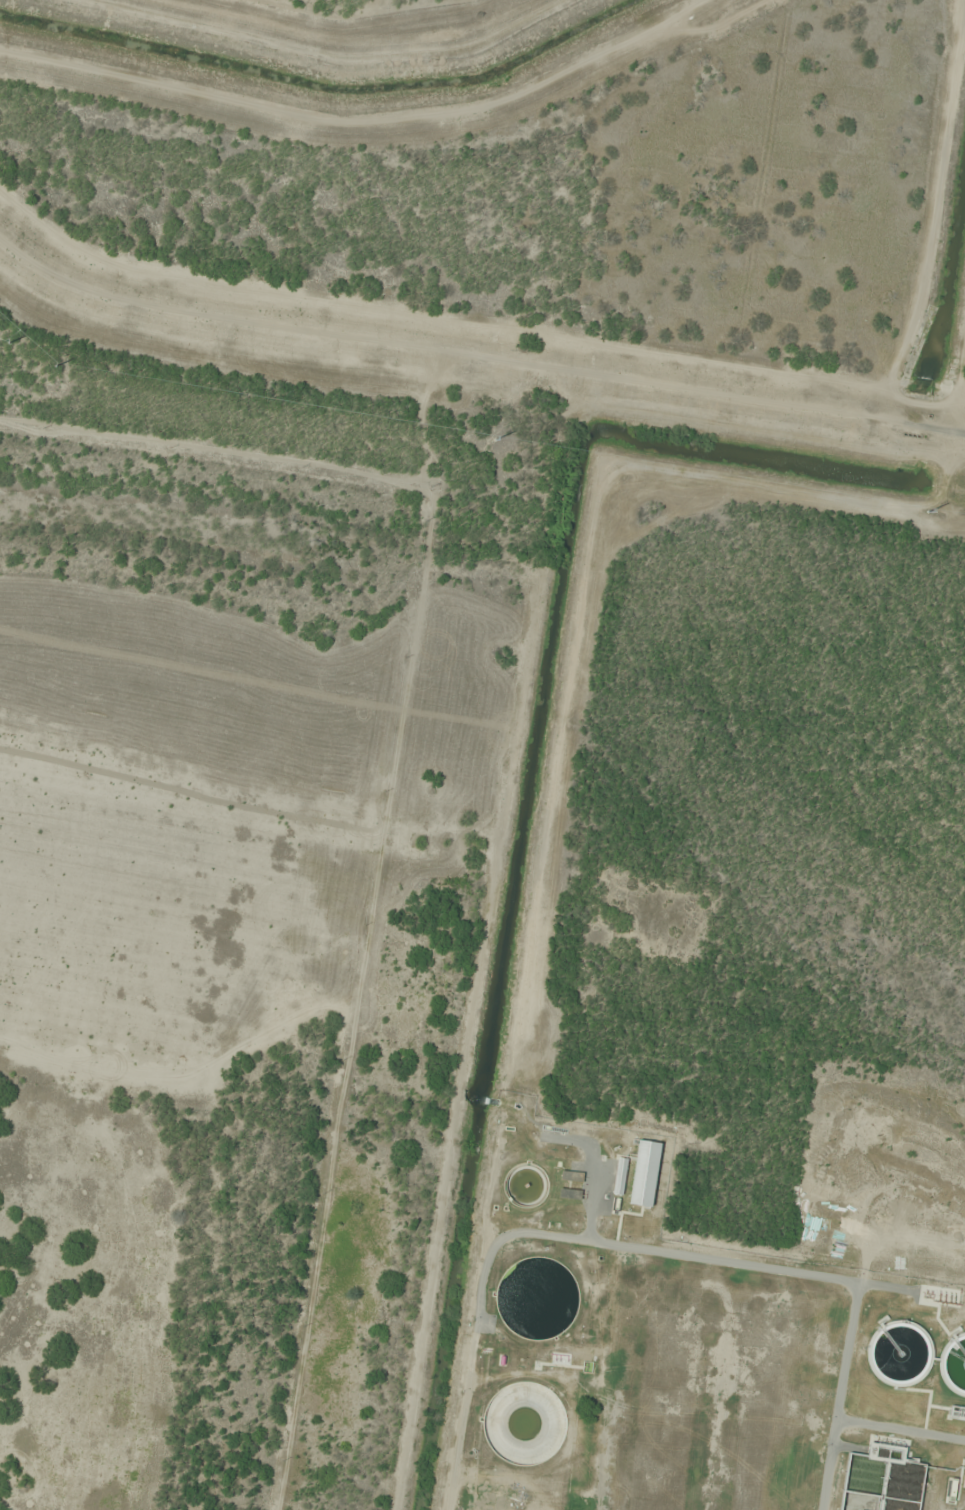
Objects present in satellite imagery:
building: (571, 1176)
building: (569, 1193)
building: (534, 1300)
wastewater plant: (683, 1346)
wastewater plant: (665, 1403)

